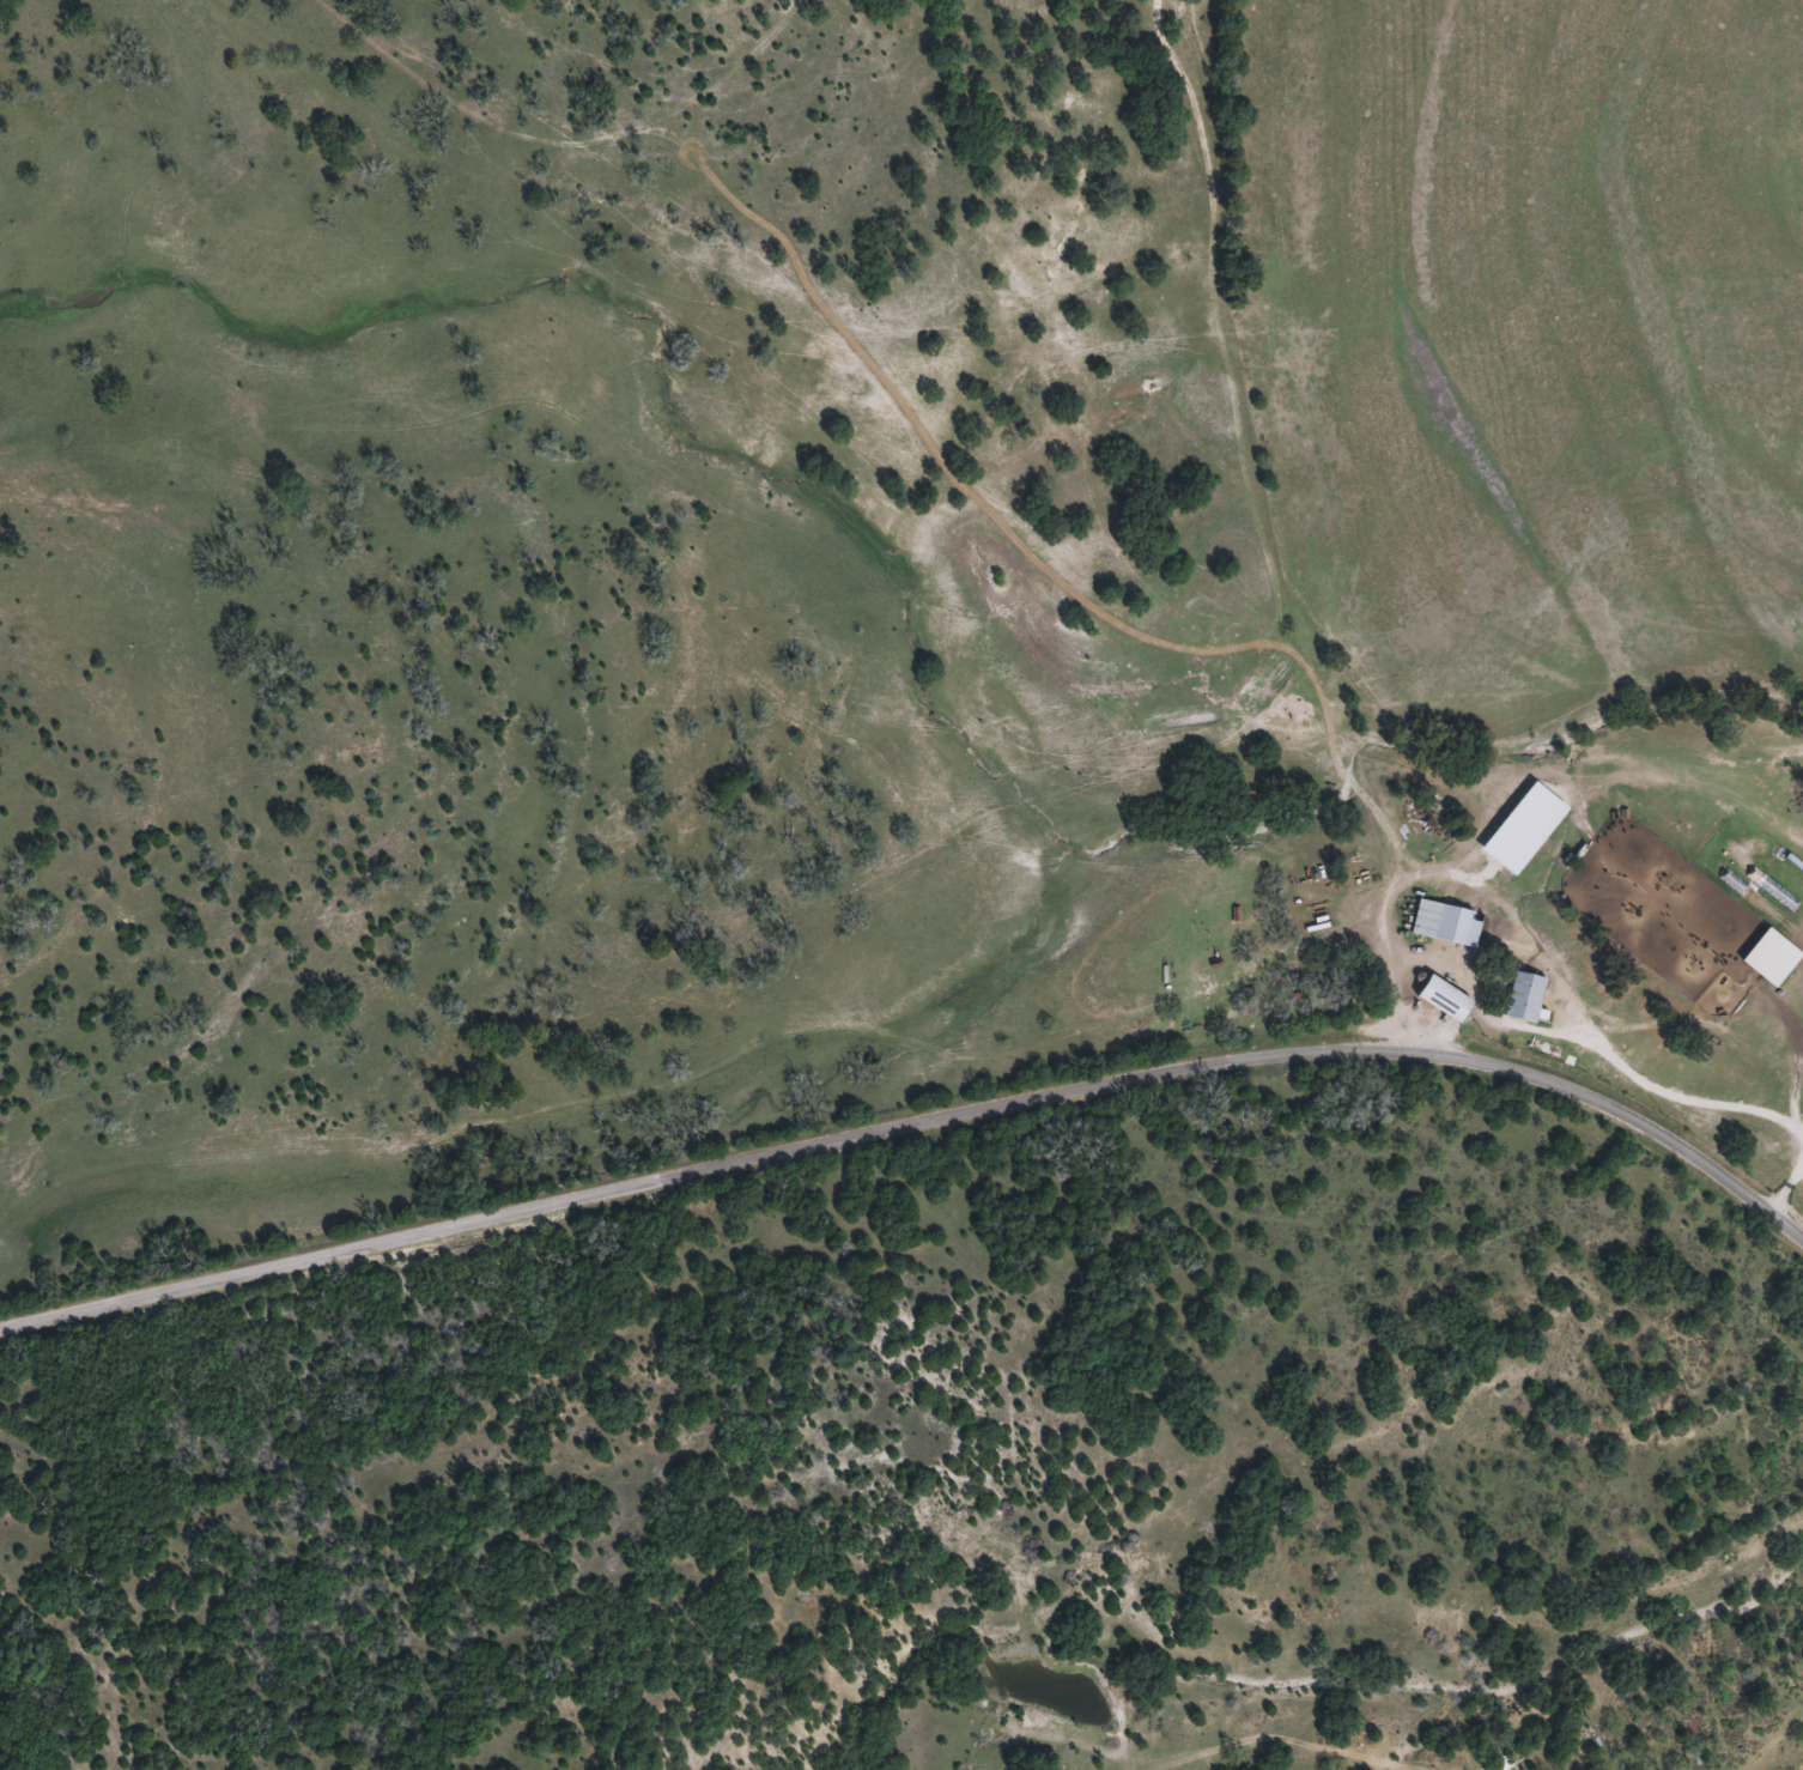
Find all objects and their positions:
road: (888, 280)
building: (1446, 923)
building: (1525, 996)
building: (1446, 1000)
road: (1456, 1060)
road: (533, 1214)

